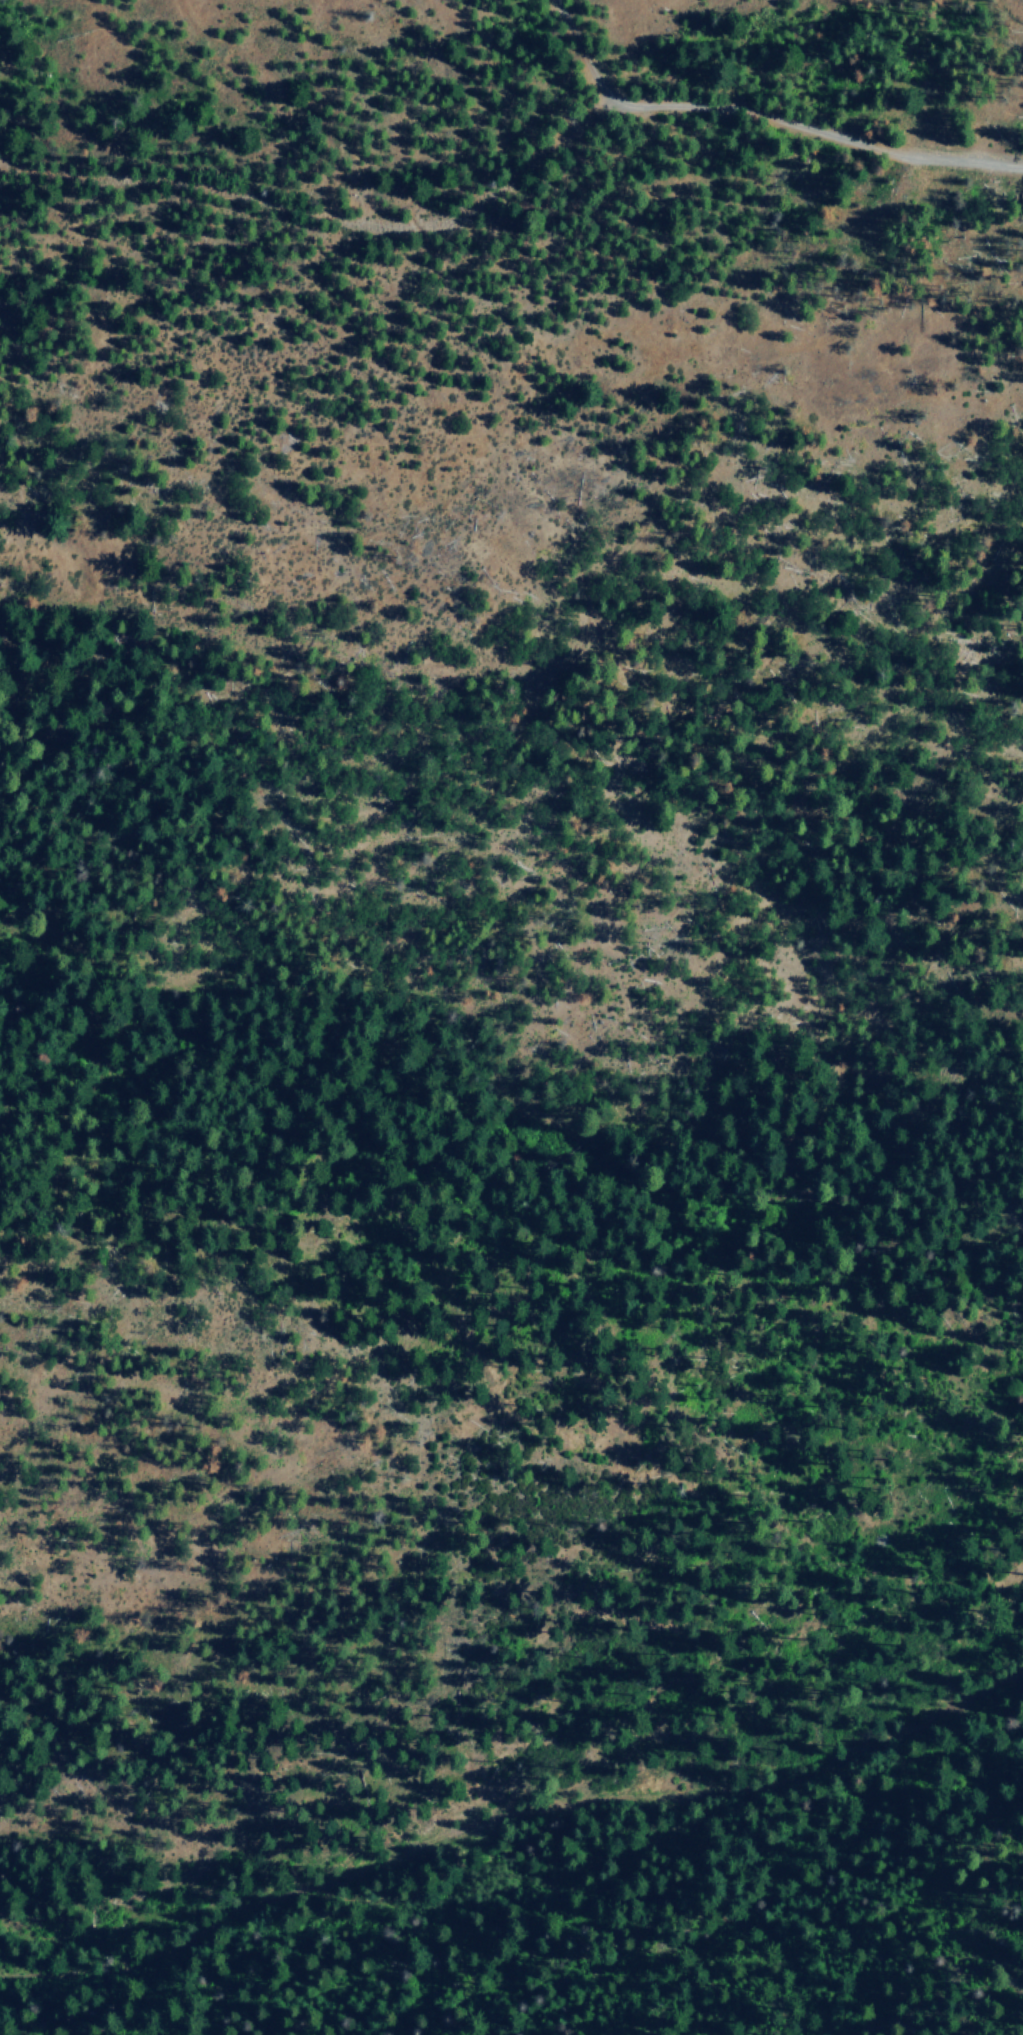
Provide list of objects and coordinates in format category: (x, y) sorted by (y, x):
road: (582, 51)
road: (516, 174)
road: (507, 1812)

